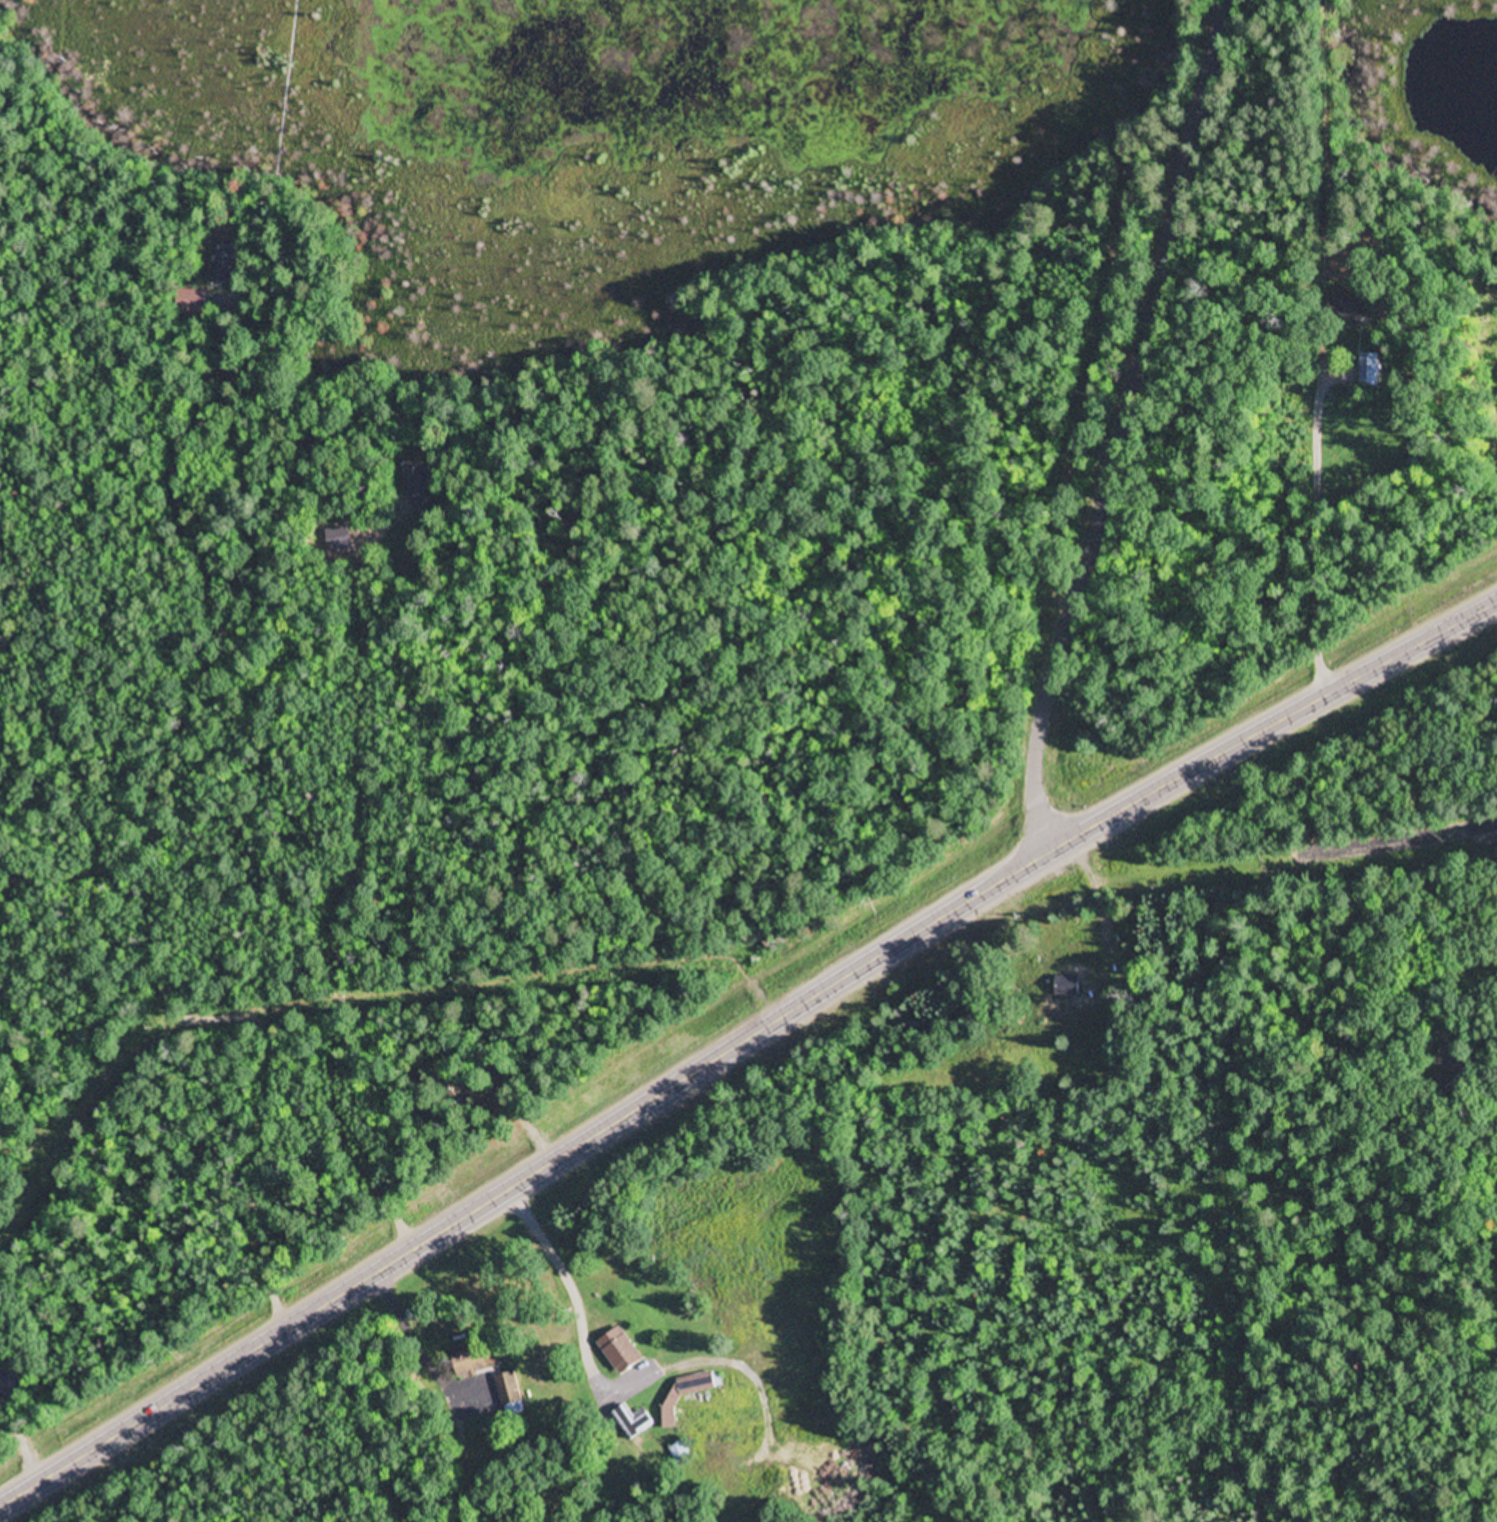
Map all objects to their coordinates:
building: (226, 268)
building: (193, 301)
building: (1351, 307)
road: (1330, 375)
road: (1130, 424)
road: (1315, 471)
building: (423, 478)
road: (154, 814)
road: (1494, 832)
road: (1398, 836)
road: (343, 880)
road: (1115, 904)
road: (1425, 944)
building: (1069, 986)
road: (739, 993)
road: (742, 1040)
road: (754, 1067)
building: (620, 1351)
building: (475, 1358)
building: (509, 1389)
building: (690, 1393)
building: (635, 1422)
road: (14, 1429)
building: (681, 1453)

